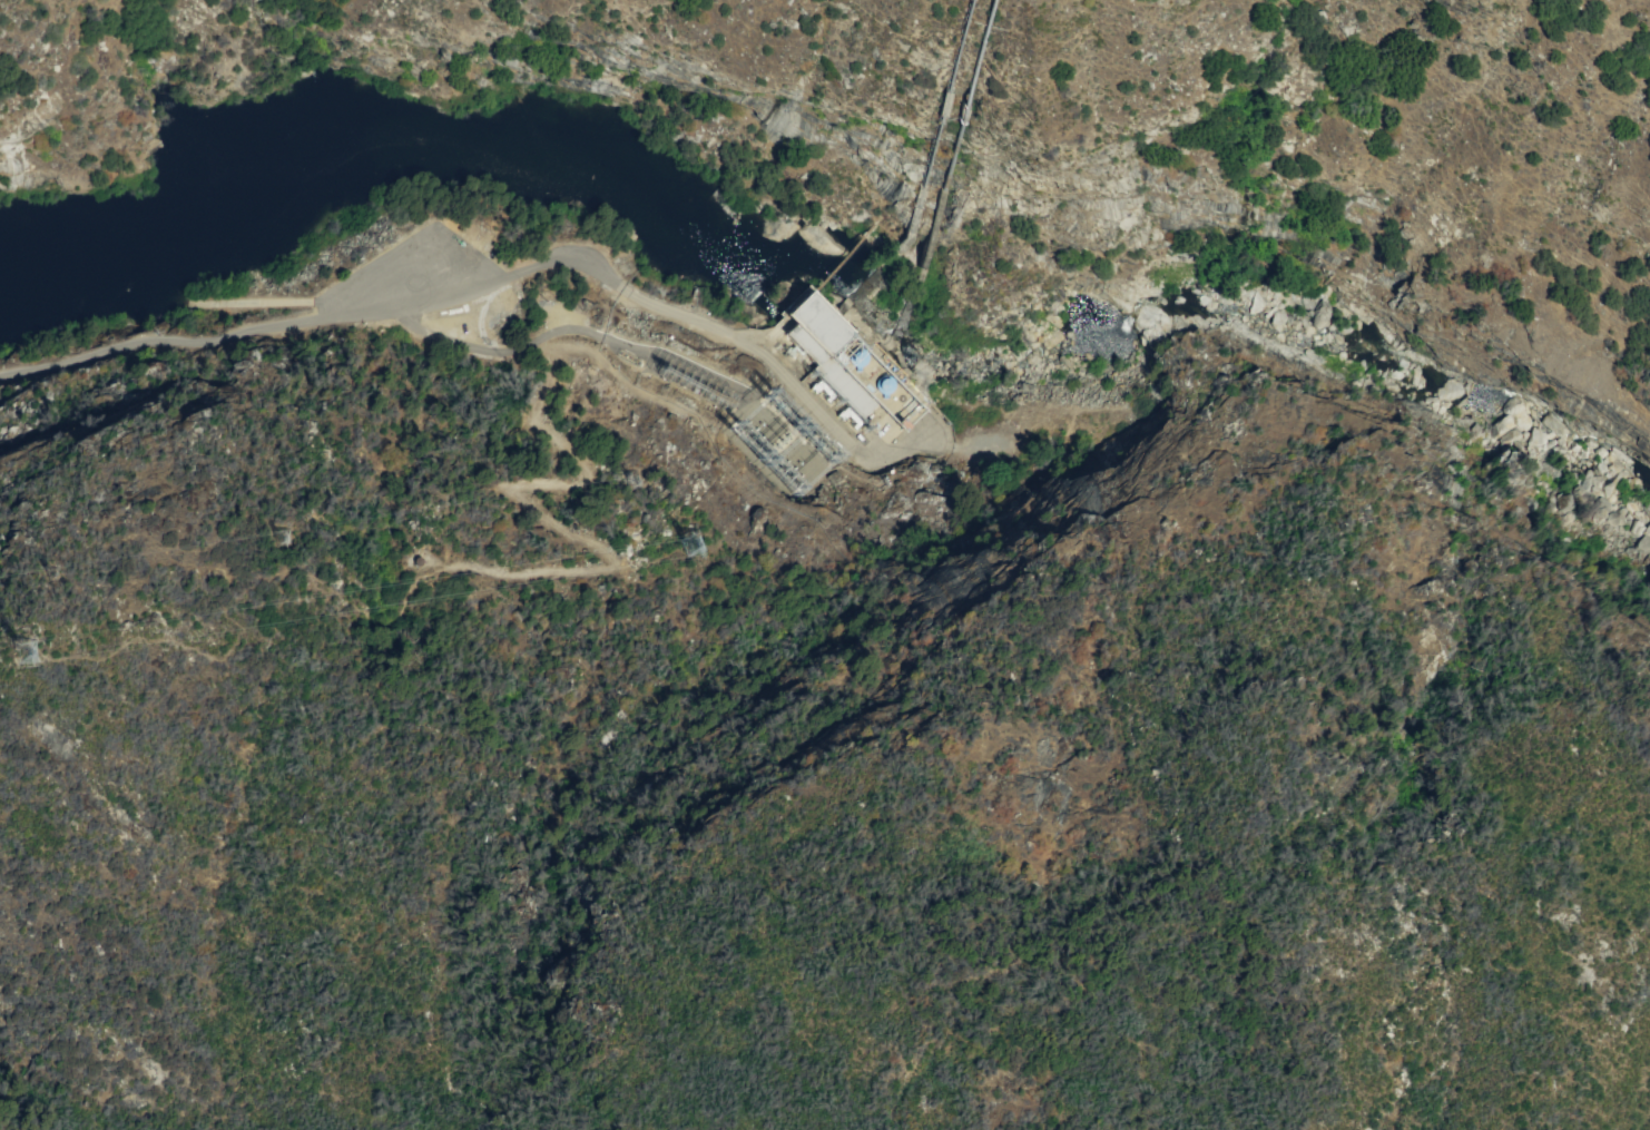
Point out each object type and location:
river: (826, 295)
road: (464, 296)
road: (294, 303)
road: (573, 332)
power substation: (731, 413)
power tower: (811, 441)
power tower: (631, 483)
power tower: (281, 541)
power tower: (690, 547)
power tower: (52, 577)
power tower: (28, 652)

